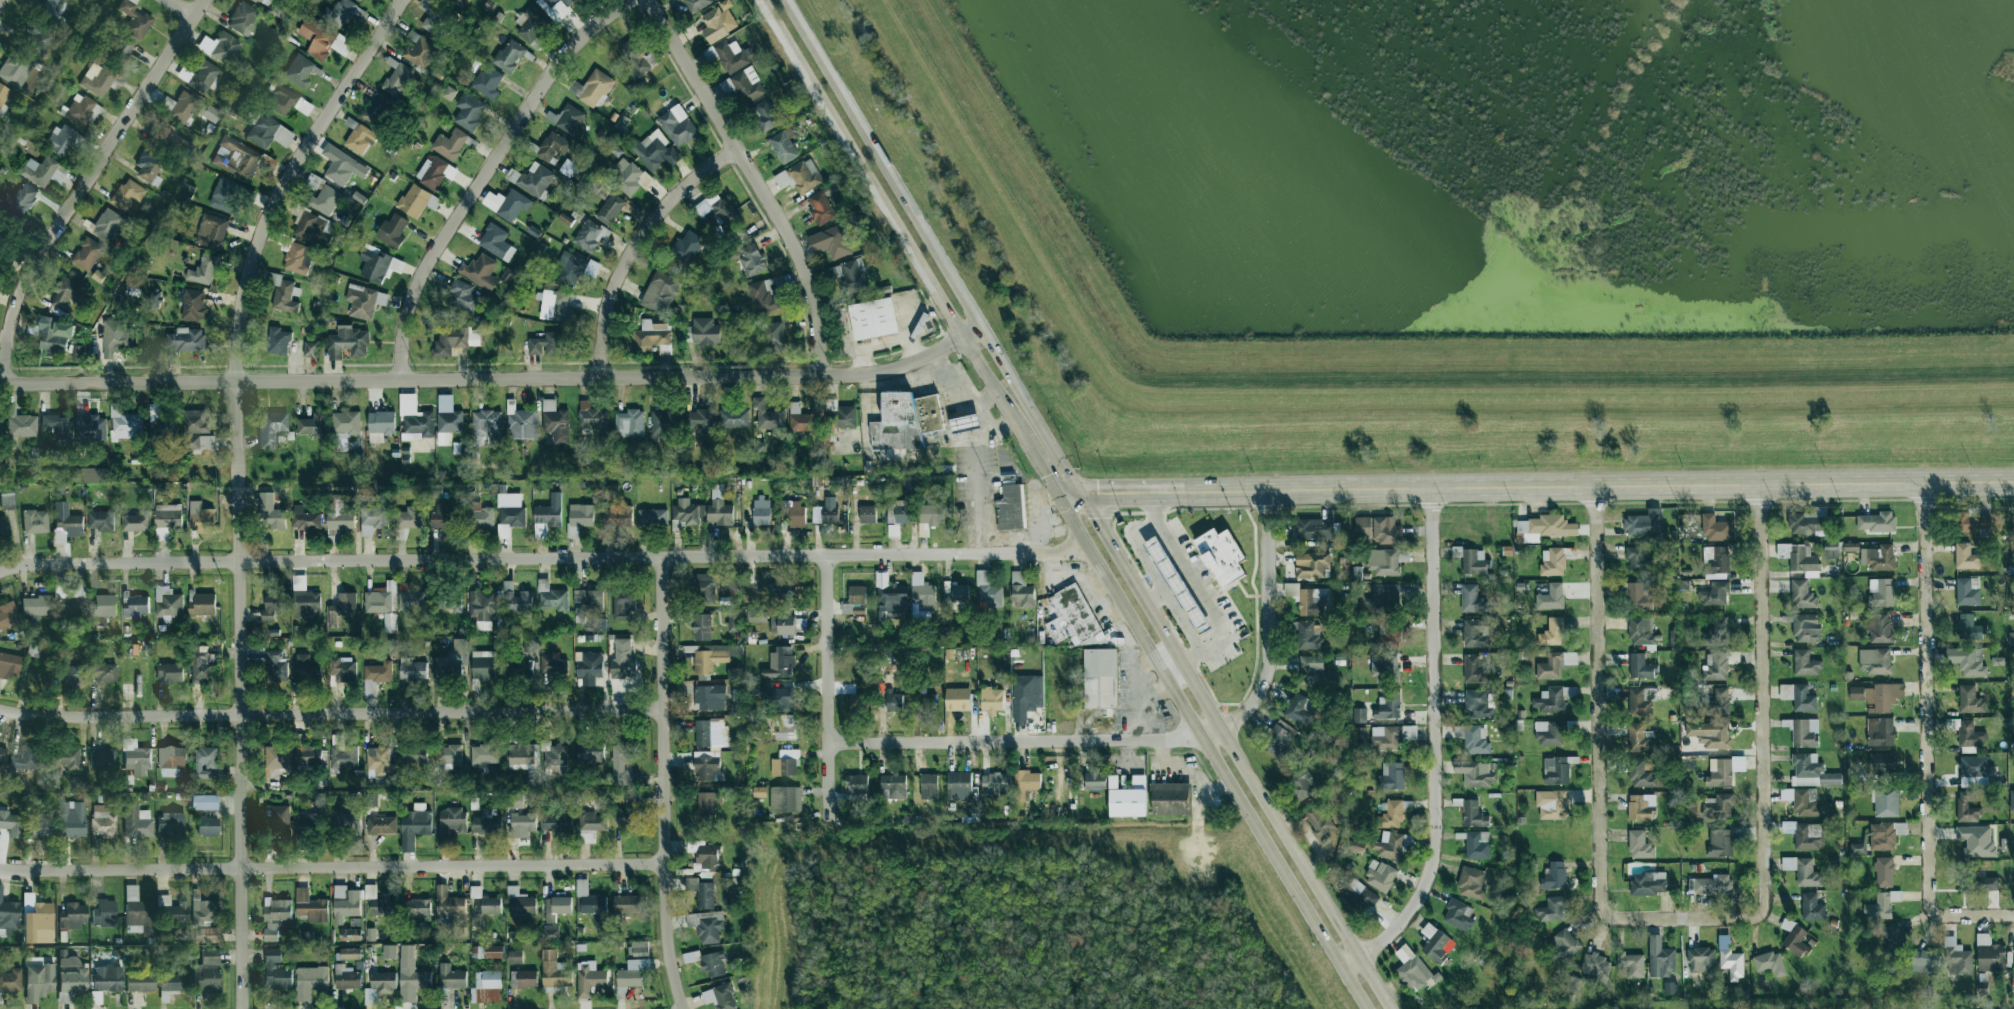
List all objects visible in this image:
road: (0, 0)
building: (362, 0)
building: (458, 0)
building: (264, 2)
building: (697, 4)
road: (185, 7)
building: (54, 8)
building: (556, 8)
building: (341, 14)
building: (243, 18)
building: (134, 19)
building: (718, 21)
building: (435, 22)
building: (531, 24)
building: (38, 38)
building: (322, 39)
building: (220, 46)
building: (419, 50)
building: (121, 51)
building: (509, 55)
building: (729, 55)
building: (636, 59)
building: (14, 70)
building: (299, 71)
building: (203, 76)
building: (96, 79)
building: (397, 79)
building: (487, 82)
building: (747, 85)
building: (595, 89)
building: (3, 94)
building: (282, 101)
building: (179, 106)
building: (79, 109)
building: (377, 109)
building: (469, 111)
building: (765, 115)
building: (567, 120)
building: (678, 125)
building: (268, 132)
building: (170, 139)
building: (60, 140)
building: (450, 144)
building: (553, 146)
building: (783, 147)
building: (656, 150)
building: (236, 158)
building: (342, 166)
building: (148, 167)
building: (39, 170)
building: (435, 172)
road: (487, 173)
building: (627, 176)
building: (799, 176)
road: (288, 179)
building: (532, 179)
road: (754, 180)
road: (85, 184)
building: (595, 185)
building: (186, 192)
building: (127, 194)
building: (225, 196)
building: (23, 198)
building: (417, 201)
building: (507, 204)
building: (821, 208)
building: (610, 209)
building: (717, 212)
building: (107, 224)
building: (312, 229)
building: (392, 230)
building: (211, 231)
building: (3, 235)
building: (590, 235)
building: (496, 242)
building: (830, 242)
road: (636, 244)
building: (686, 247)
building: (0, 252)
building: (87, 254)
building: (298, 258)
building: (750, 259)
building: (379, 265)
building: (574, 268)
building: (203, 270)
building: (480, 271)
building: (847, 276)
building: (68, 292)
building: (659, 292)
building: (282, 293)
building: (766, 293)
building: (462, 295)
building: (364, 301)
building: (193, 305)
building: (555, 305)
building: (873, 318)
road: (909, 324)
building: (705, 331)
building: (55, 335)
building: (651, 336)
building: (116, 337)
building: (773, 337)
building: (185, 339)
building: (455, 340)
building: (277, 341)
building: (347, 342)
building: (548, 344)
road: (874, 346)
building: (310, 349)
building: (78, 352)
road: (614, 376)
road: (956, 382)
road: (118, 383)
building: (592, 417)
building: (734, 417)
building: (802, 418)
building: (843, 418)
building: (415, 419)
building: (699, 419)
building: (770, 419)
building: (159, 420)
building: (905, 420)
building: (486, 422)
building: (555, 422)
building: (665, 422)
building: (346, 423)
building: (522, 423)
building: (629, 423)
building: (965, 423)
building: (125, 424)
building: (22, 425)
building: (314, 425)
building: (380, 425)
building: (448, 425)
building: (0, 427)
building: (58, 427)
building: (91, 428)
building: (270, 428)
building: (197, 431)
road: (975, 467)
road: (1535, 489)
building: (7, 501)
road: (1062, 504)
road: (1086, 505)
building: (1011, 507)
building: (719, 508)
building: (762, 511)
building: (826, 511)
building: (271, 512)
building: (509, 513)
building: (932, 513)
building: (793, 514)
building: (867, 514)
building: (547, 515)
building: (581, 515)
building: (444, 516)
building: (479, 516)
building: (617, 516)
building: (897, 516)
road: (1038, 516)
building: (200, 517)
building: (339, 517)
building: (408, 517)
building: (652, 517)
building: (305, 518)
building: (373, 519)
building: (100, 520)
building: (167, 520)
building: (35, 521)
building: (136, 521)
building: (65, 522)
building: (1809, 522)
building: (1877, 522)
building: (1972, 522)
building: (1644, 523)
building: (1545, 527)
building: (4, 528)
building: (1715, 528)
building: (1313, 529)
building: (1379, 529)
building: (1831, 552)
building: (1221, 556)
building: (1879, 557)
building: (1966, 557)
road: (544, 558)
building: (1799, 558)
building: (1639, 559)
building: (1472, 560)
building: (1716, 560)
building: (1386, 561)
building: (1552, 562)
building: (1311, 564)
building: (728, 581)
road: (1160, 582)
building: (1177, 585)
road: (1197, 586)
building: (705, 588)
building: (1021, 589)
building: (780, 590)
building: (988, 590)
building: (1967, 591)
building: (956, 592)
building: (1881, 592)
building: (1715, 594)
building: (1802, 594)
building: (69, 596)
building: (552, 596)
building: (922, 596)
building: (1551, 597)
building: (1637, 597)
building: (381, 598)
building: (411, 598)
building: (516, 598)
building: (1385, 598)
building: (891, 599)
building: (1309, 599)
building: (1471, 599)
building: (447, 601)
building: (855, 601)
building: (587, 602)
building: (167, 603)
building: (306, 603)
building: (135, 604)
building: (622, 604)
building: (103, 605)
building: (202, 605)
building: (274, 605)
building: (36, 606)
building: (482, 607)
building: (342, 608)
building: (8, 614)
building: (754, 616)
building: (1071, 616)
road: (1270, 620)
building: (732, 621)
building: (781, 625)
building: (701, 627)
building: (1879, 627)
building: (1970, 627)
building: (1806, 628)
building: (1642, 631)
building: (1552, 632)
building: (1475, 633)
building: (1716, 633)
building: (1308, 635)
building: (1390, 636)
building: (1673, 639)
building: (530, 645)
building: (713, 657)
building: (622, 660)
building: (1875, 660)
building: (1967, 661)
building: (450, 663)
building: (780, 663)
building: (1805, 663)
building: (1555, 664)
building: (201, 665)
building: (482, 665)
building: (10, 666)
building: (276, 666)
building: (553, 666)
building: (1641, 666)
building: (1383, 667)
building: (1715, 667)
building: (589, 668)
building: (307, 669)
building: (1474, 669)
building: (341, 670)
building: (413, 670)
building: (518, 670)
building: (1311, 670)
building: (102, 671)
building: (170, 672)
building: (378, 672)
building: (735, 673)
building: (68, 674)
building: (1099, 678)
road: (827, 688)
building: (1027, 691)
building: (1786, 691)
road: (240, 695)
building: (1877, 696)
building: (709, 697)
building: (1804, 698)
building: (782, 699)
building: (958, 699)
building: (1970, 699)
building: (991, 700)
building: (1549, 700)
building: (1642, 700)
building: (858, 701)
building: (894, 701)
building: (927, 701)
building: (1719, 701)
building: (1477, 704)
building: (1387, 707)
building: (1300, 708)
road: (331, 713)
building: (1359, 715)
building: (785, 727)
building: (1880, 731)
building: (710, 732)
building: (1805, 732)
building: (1548, 733)
building: (1967, 733)
building: (1709, 734)
building: (1391, 736)
building: (1640, 738)
building: (1473, 739)
road: (1926, 739)
road: (1764, 740)
road: (1026, 742)
road: (1599, 745)
road: (1433, 749)
building: (343, 753)
building: (3, 754)
building: (414, 754)
building: (590, 754)
building: (483, 755)
building: (521, 755)
building: (277, 756)
building: (308, 756)
building: (65, 757)
building: (25, 758)
building: (103, 758)
building: (136, 758)
building: (171, 760)
building: (205, 762)
building: (1882, 762)
building: (380, 763)
building: (785, 763)
building: (621, 764)
building: (706, 767)
building: (1556, 770)
building: (1811, 771)
building: (1974, 771)
building: (1719, 772)
building: (1477, 773)
building: (1641, 774)
building: (1392, 776)
building: (1095, 779)
road: (665, 783)
building: (994, 783)
building: (1025, 784)
building: (958, 785)
building: (1299, 785)
building: (857, 786)
building: (893, 786)
building: (928, 786)
building: (1171, 798)
building: (785, 799)
building: (205, 802)
building: (1127, 802)
building: (1886, 802)
building: (1552, 804)
building: (706, 805)
building: (1718, 806)
building: (1967, 807)
building: (1639, 808)
building: (628, 813)
building: (1473, 814)
building: (314, 815)
building: (1391, 815)
building: (72, 819)
building: (1318, 819)
building: (276, 820)
building: (103, 821)
building: (136, 821)
building: (346, 821)
building: (485, 822)
building: (556, 822)
building: (10, 823)
building: (170, 823)
building: (522, 823)
building: (449, 824)
building: (381, 825)
building: (38, 826)
building: (207, 826)
building: (591, 826)
building: (414, 828)
building: (1885, 835)
building: (1808, 836)
building: (1976, 840)
building: (1720, 843)
building: (1388, 845)
building: (1477, 845)
building: (1640, 845)
building: (1857, 848)
building: (707, 856)
road: (333, 868)
building: (1803, 871)
building: (1883, 871)
building: (1554, 875)
building: (1380, 876)
building: (1471, 883)
building: (1648, 883)
building: (1980, 883)
building: (1711, 884)
building: (702, 893)
building: (1359, 897)
building: (589, 898)
building: (379, 900)
building: (485, 902)
building: (345, 903)
building: (627, 904)
building: (447, 905)
building: (520, 905)
building: (1882, 905)
building: (310, 906)
building: (420, 906)
building: (556, 907)
building: (1812, 907)
building: (1551, 908)
building: (173, 910)
building: (137, 912)
building: (204, 912)
building: (104, 913)
building: (1458, 915)
building: (9, 916)
building: (72, 916)
building: (275, 916)
road: (2013, 916)
building: (38, 923)
building: (550, 932)
building: (209, 934)
building: (1794, 938)
building: (1893, 938)
building: (1436, 944)
building: (1563, 945)
building: (639, 948)
building: (389, 951)
building: (407, 951)
building: (491, 951)
building: (350, 953)
building: (1990, 954)
building: (515, 957)
building: (1660, 958)
building: (1957, 958)
building: (1701, 959)
building: (1924, 961)
building: (1770, 963)
building: (713, 964)
building: (1631, 964)
building: (1732, 964)
building: (1597, 966)
building: (1411, 968)
building: (207, 970)
building: (276, 970)
building: (554, 972)
building: (632, 973)
building: (451, 976)
building: (71, 977)
building: (346, 977)
building: (38, 978)
building: (107, 978)
building: (523, 978)
building: (488, 979)
building: (590, 979)
building: (11, 980)
building: (171, 981)
building: (310, 981)
building: (140, 982)
building: (413, 983)
building: (1573, 984)
building: (379, 986)
building: (1670, 988)
building: (485, 995)
building: (720, 997)

